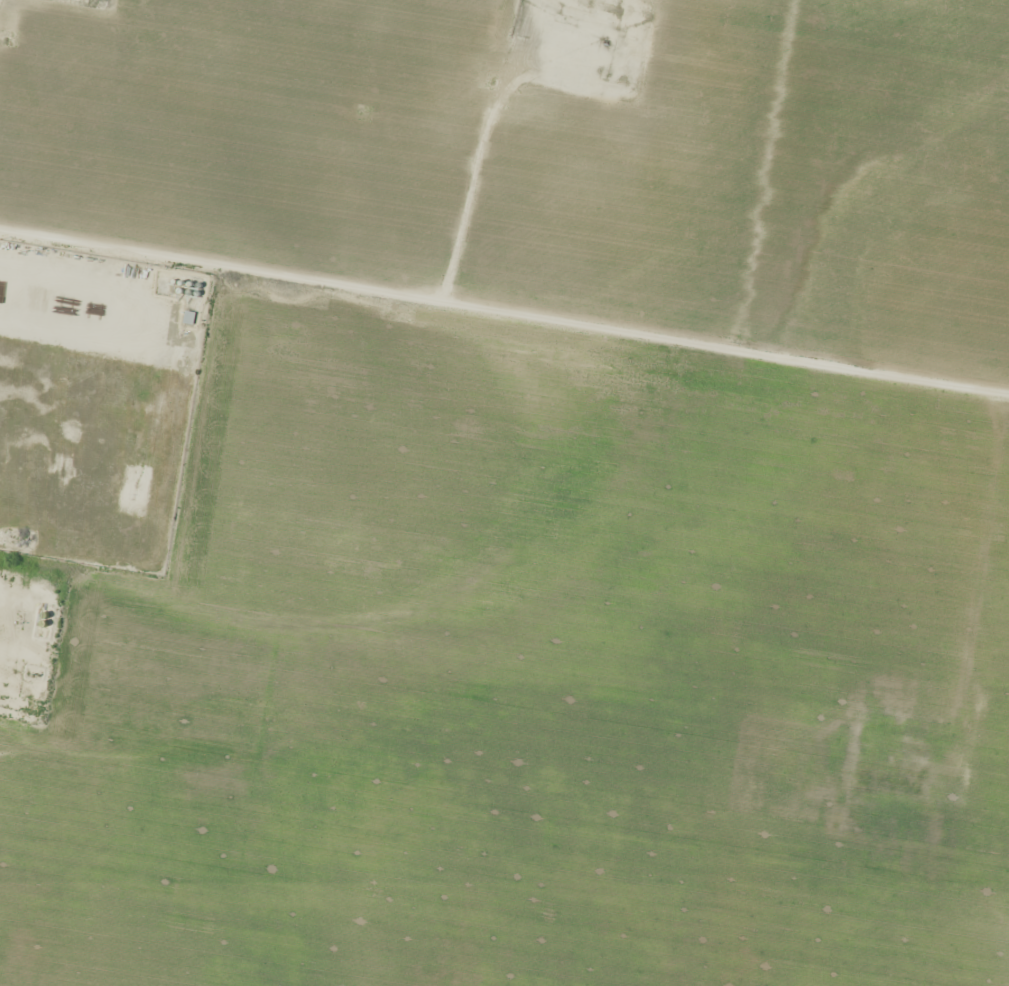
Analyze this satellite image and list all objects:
road: (504, 310)
building: (189, 318)

